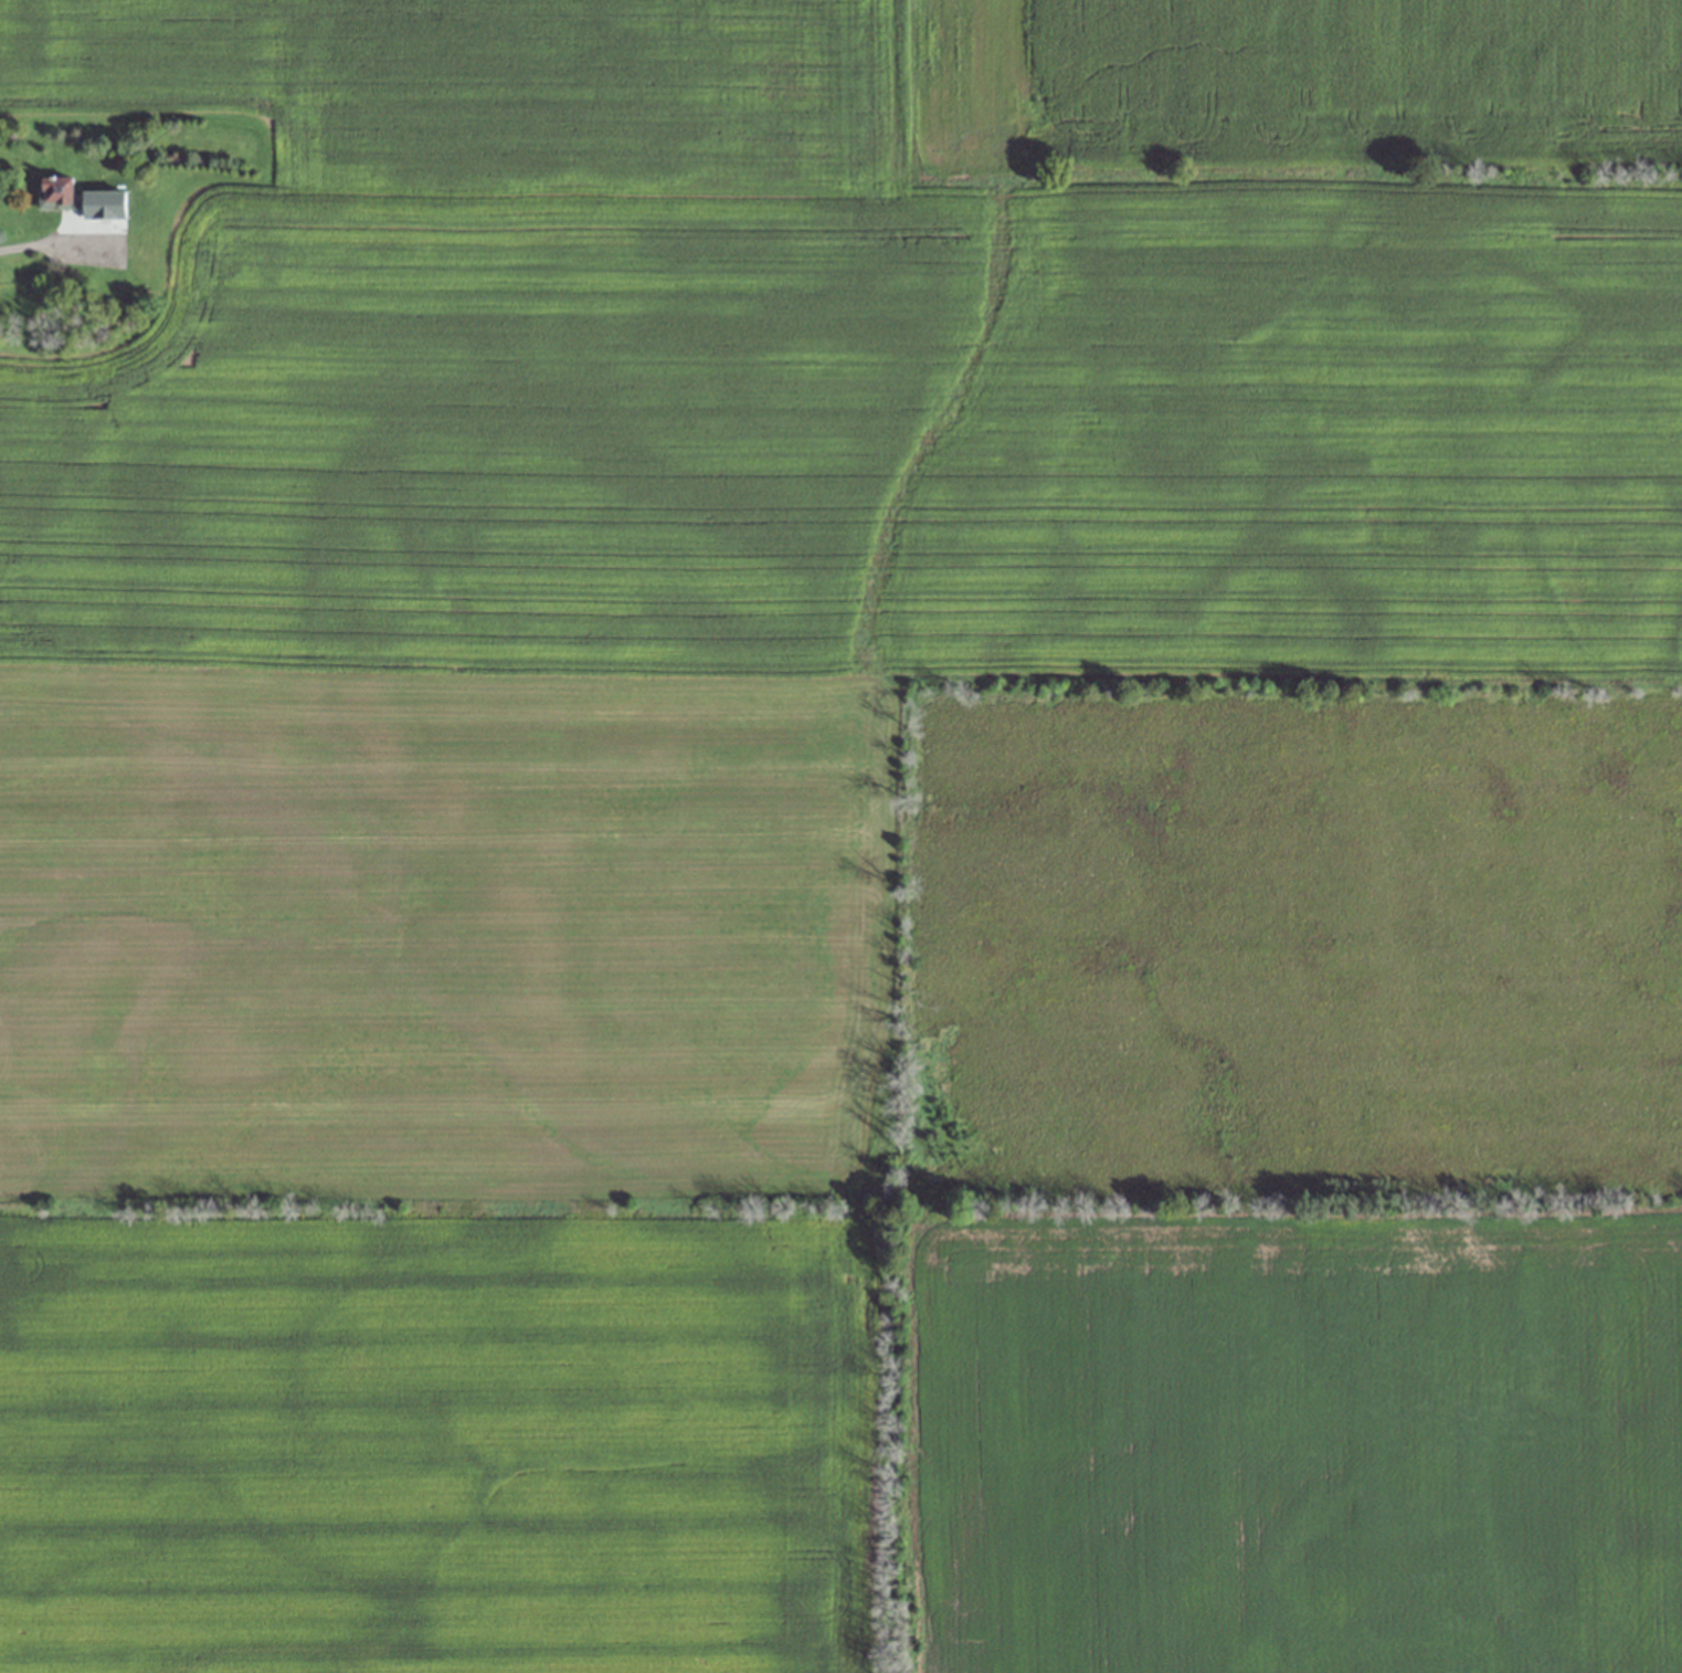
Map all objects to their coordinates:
building: (57, 190)
building: (94, 197)
road: (41, 242)
crop: (849, 843)

